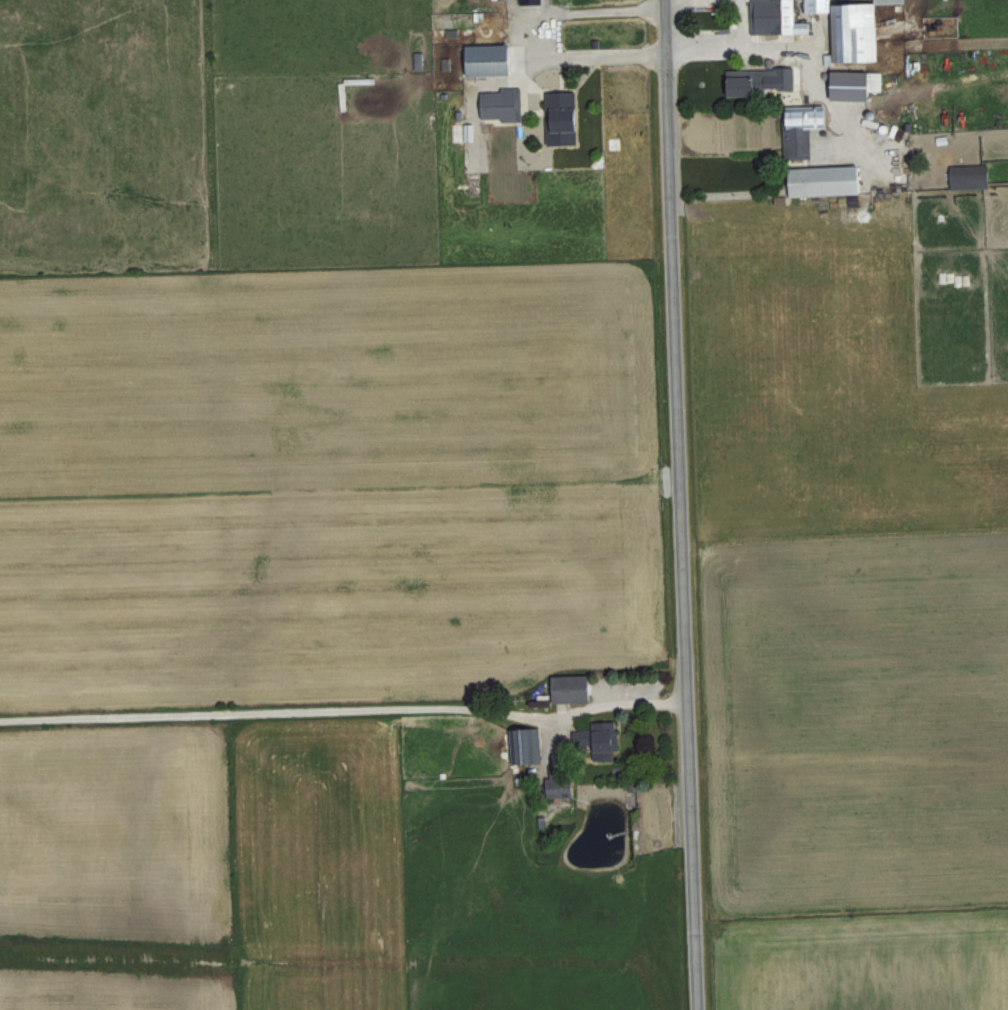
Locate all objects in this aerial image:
building: (532, 1)
building: (892, 1)
building: (777, 16)
building: (855, 28)
road: (779, 51)
building: (491, 59)
building: (419, 60)
building: (769, 80)
building: (856, 84)
building: (505, 103)
building: (565, 117)
building: (804, 129)
building: (972, 175)
building: (828, 180)
road: (688, 504)
building: (574, 688)
road: (348, 716)
building: (528, 746)
building: (562, 780)

